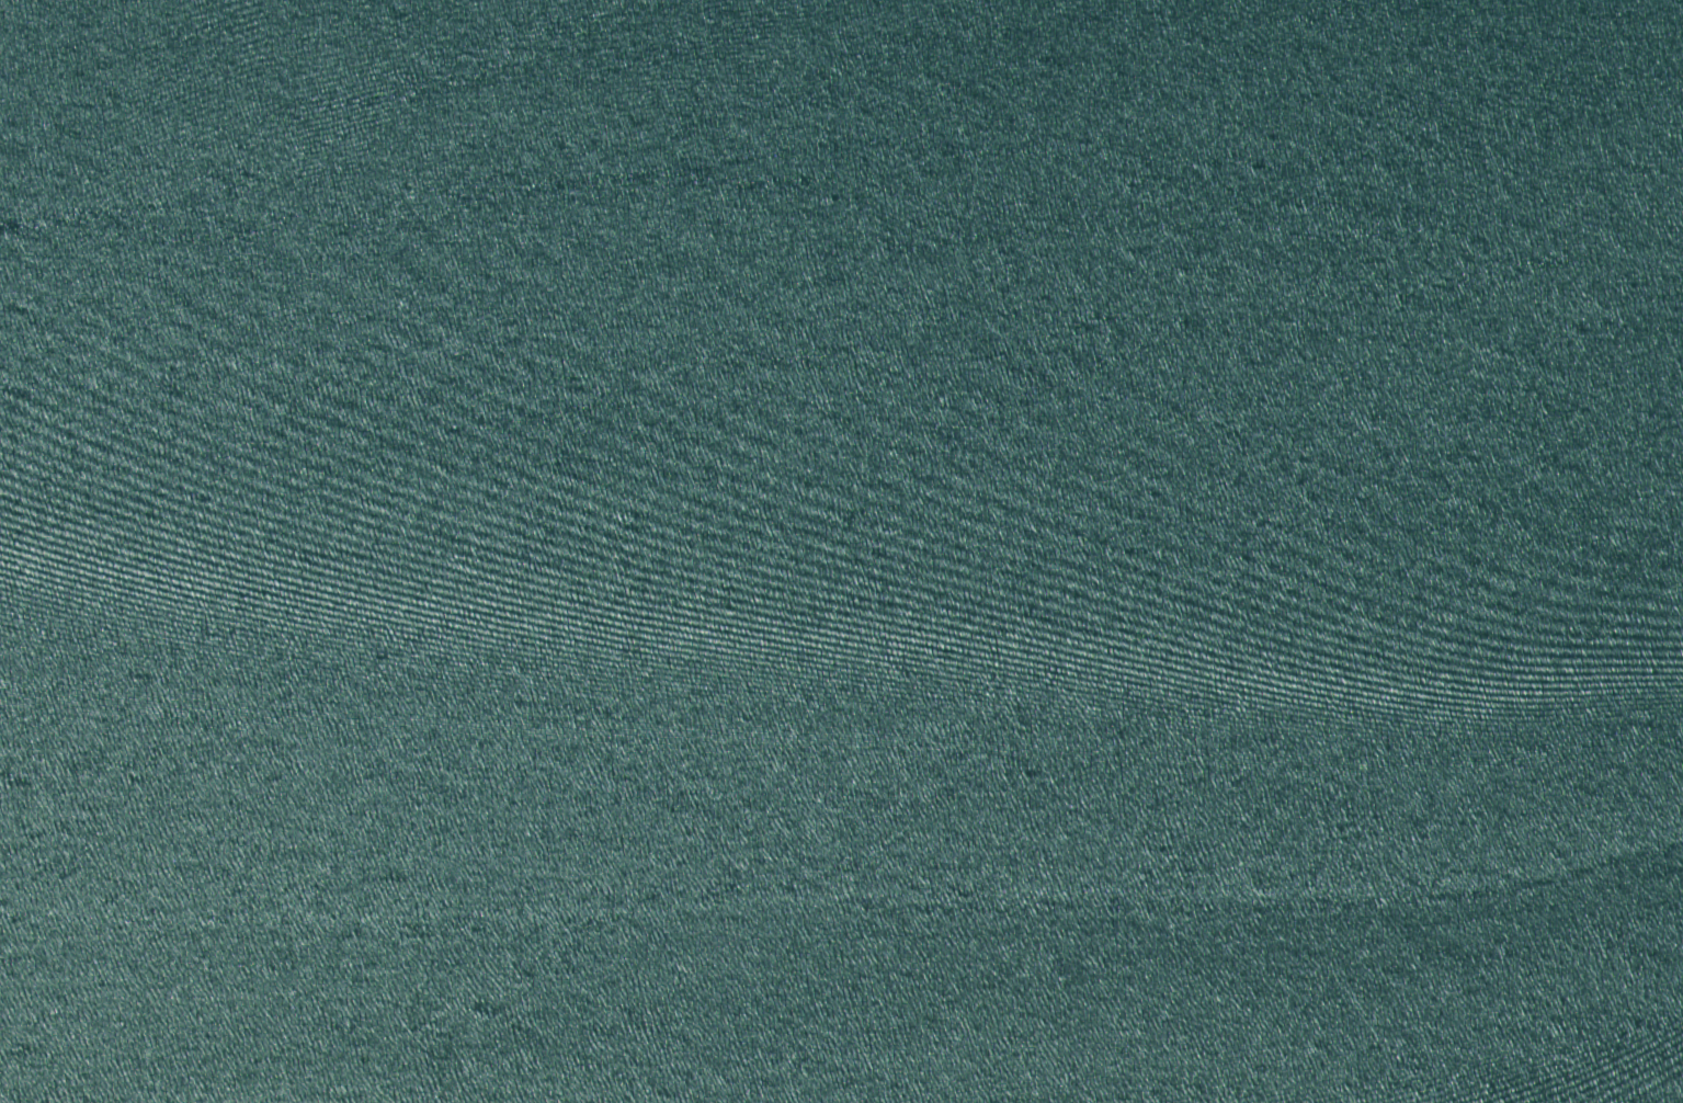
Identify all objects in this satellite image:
river: (842, 327)

